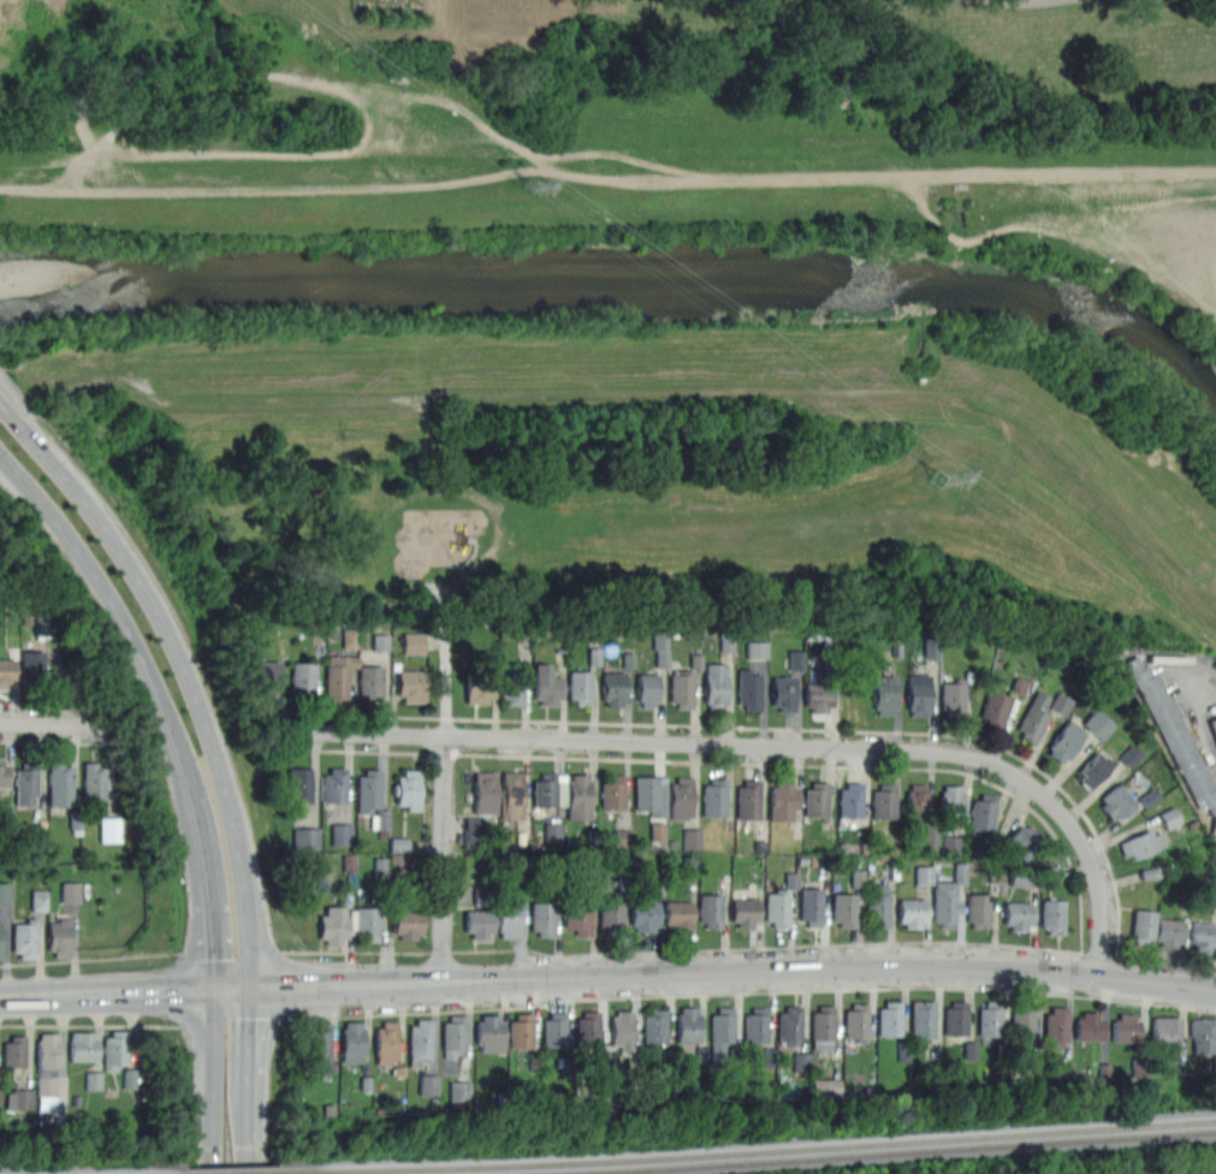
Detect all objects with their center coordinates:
road: (1014, 1)
park: (598, 103)
river: (621, 285)
park: (643, 472)
building: (43, 623)
building: (350, 634)
building: (381, 639)
building: (415, 641)
building: (931, 645)
building: (758, 646)
building: (662, 647)
building: (594, 653)
building: (796, 658)
building: (34, 666)
road: (183, 670)
building: (6, 671)
building: (338, 675)
building: (268, 677)
building: (303, 678)
building: (370, 681)
building: (511, 682)
building: (547, 684)
building: (411, 686)
building: (580, 686)
building: (714, 686)
building: (479, 687)
building: (681, 687)
building: (613, 688)
building: (647, 688)
building: (748, 688)
building: (782, 690)
building: (918, 693)
building: (884, 694)
building: (818, 695)
building: (953, 696)
parking lot: (1191, 698)
road: (161, 699)
building: (993, 707)
road: (1191, 707)
building: (1034, 717)
building: (1099, 722)
road: (60, 723)
building: (1212, 725)
building: (1173, 733)
building: (1064, 740)
road: (752, 743)
building: (1132, 753)
building: (1093, 769)
building: (4, 773)
building: (59, 782)
building: (94, 782)
building: (25, 783)
building: (299, 783)
building: (333, 784)
building: (408, 788)
building: (368, 790)
building: (547, 790)
building: (484, 791)
building: (612, 791)
building: (1151, 794)
building: (510, 795)
building: (651, 795)
building: (579, 798)
building: (680, 798)
building: (714, 798)
building: (747, 799)
building: (815, 799)
building: (850, 799)
building: (782, 800)
building: (883, 800)
building: (1115, 800)
building: (950, 802)
road: (443, 808)
building: (920, 811)
parking lot: (1214, 812)
building: (1171, 814)
building: (76, 820)
building: (981, 822)
building: (1214, 824)
building: (109, 826)
building: (474, 829)
building: (658, 829)
building: (553, 830)
building: (340, 832)
building: (692, 834)
building: (307, 836)
building: (1024, 840)
building: (1140, 843)
building: (925, 872)
building: (856, 876)
building: (1020, 877)
building: (5, 889)
building: (70, 890)
building: (948, 896)
building: (38, 897)
building: (779, 901)
building: (877, 903)
building: (809, 905)
building: (843, 908)
building: (710, 909)
building: (977, 909)
building: (912, 911)
building: (643, 912)
building: (743, 912)
building: (611, 914)
building: (678, 914)
building: (1018, 914)
building: (1052, 915)
building: (509, 917)
building: (541, 917)
building: (577, 919)
building: (477, 921)
building: (366, 923)
building: (407, 923)
building: (333, 924)
building: (1143, 925)
building: (0, 931)
building: (1168, 931)
building: (1202, 935)
building: (59, 936)
building: (24, 937)
traffic signals: (215, 957)
road: (711, 971)
traffic signals: (292, 986)
road: (1211, 988)
traffic signals: (192, 990)
road: (749, 990)
road: (146, 991)
road: (37, 995)
traffic signals: (249, 1013)
road: (278, 1016)
building: (923, 1018)
building: (956, 1018)
building: (989, 1018)
building: (889, 1019)
building: (856, 1021)
building: (1021, 1024)
building: (687, 1025)
building: (755, 1025)
building: (789, 1025)
building: (821, 1025)
building: (1056, 1025)
building: (654, 1026)
building: (1090, 1026)
building: (587, 1027)
building: (621, 1027)
building: (1125, 1027)
building: (553, 1028)
building: (520, 1030)
building: (1165, 1030)
building: (488, 1032)
building: (720, 1033)
building: (1203, 1033)
building: (452, 1036)
building: (351, 1040)
building: (420, 1040)
building: (386, 1042)
building: (82, 1045)
building: (318, 1046)
building: (114, 1048)
building: (972, 1048)
building: (13, 1051)
building: (767, 1055)
building: (800, 1059)
building: (46, 1061)
building: (131, 1077)
building: (94, 1078)
road: (248, 1080)
road: (214, 1081)
building: (429, 1083)
building: (825, 1084)
building: (0, 1087)
building: (458, 1087)
building: (19, 1097)
railway: (746, 1150)
railway: (868, 1152)
parking lot: (1163, 1172)
railway: (229, 1173)

